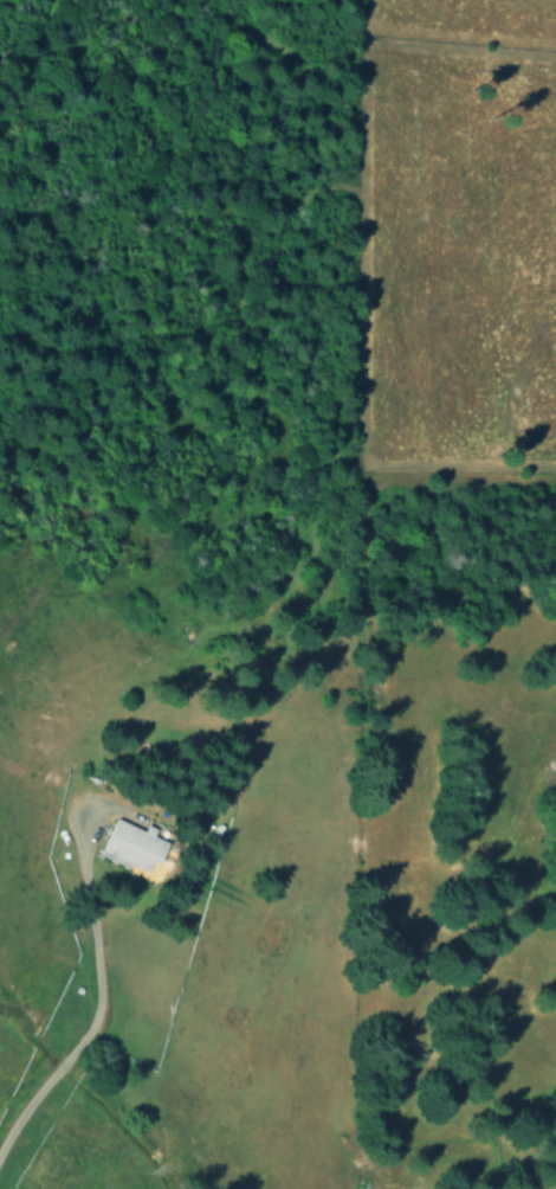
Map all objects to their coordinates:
crop: (465, 229)
building: (128, 844)
road: (89, 977)

